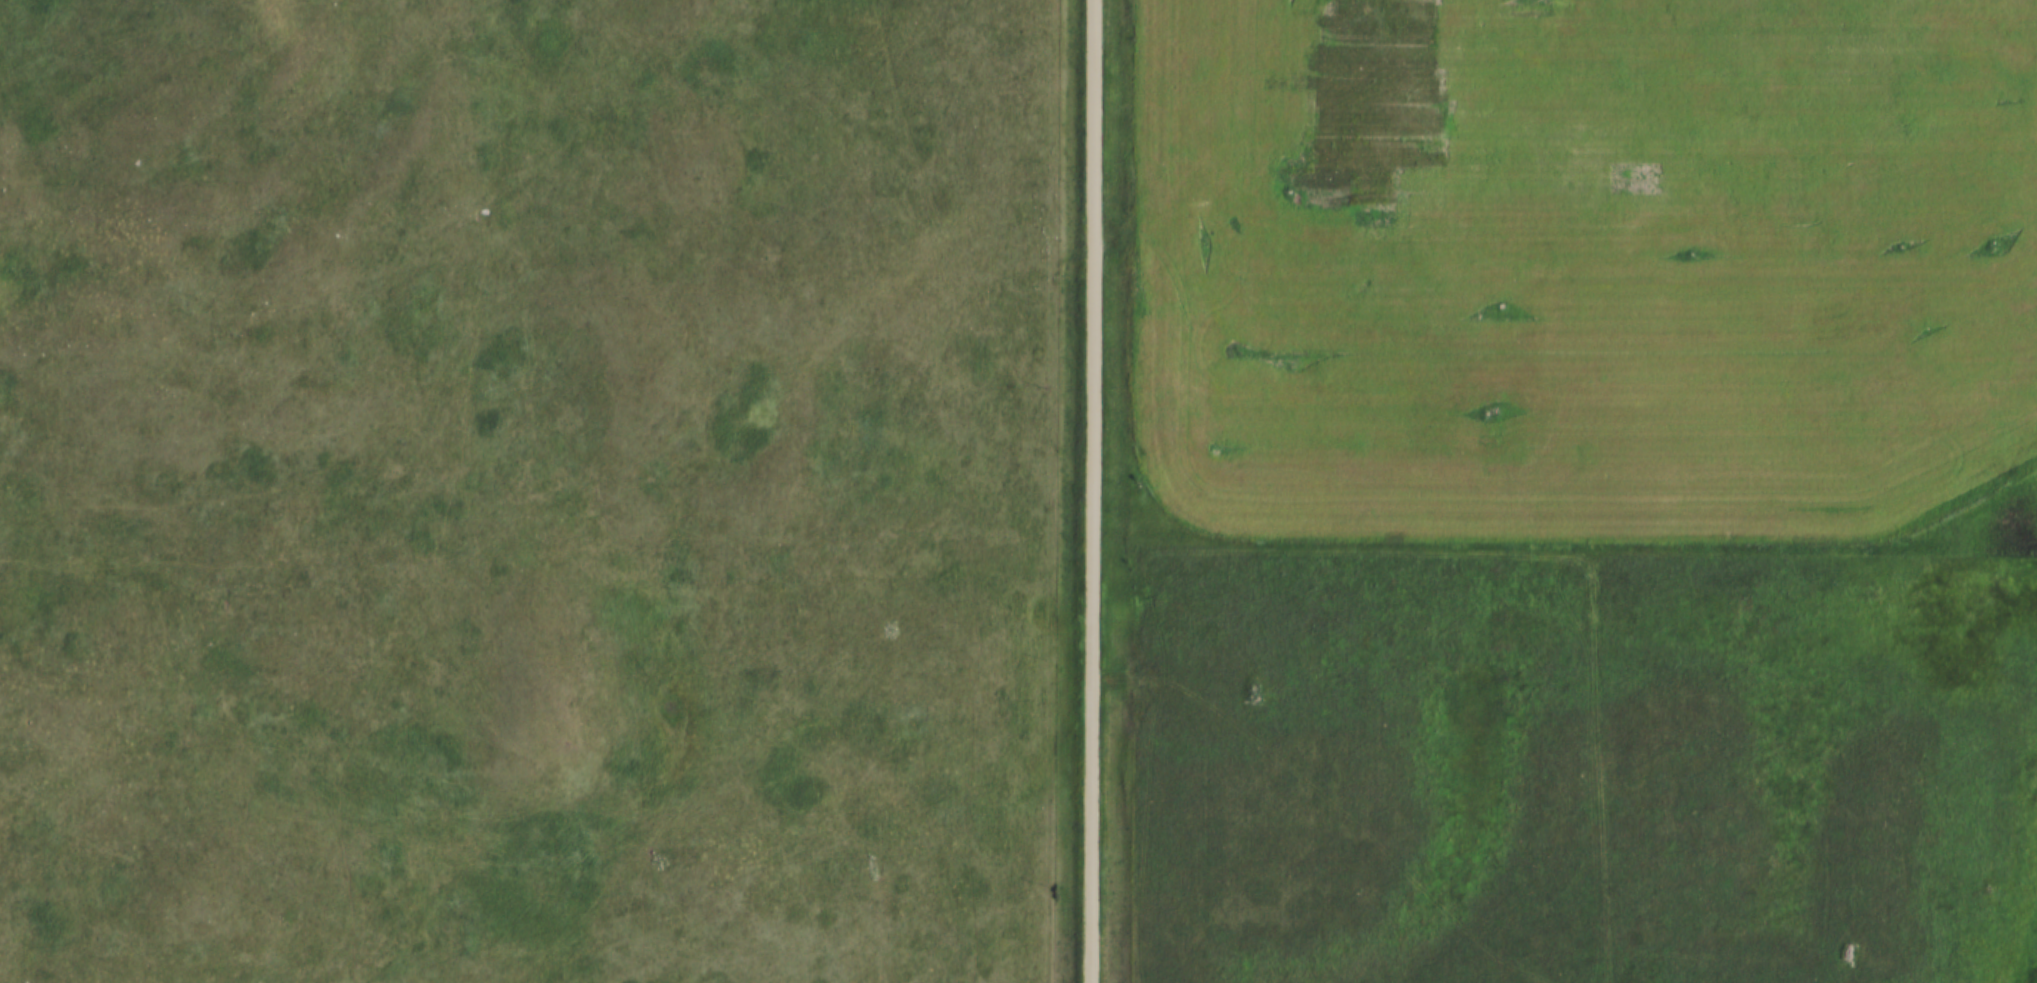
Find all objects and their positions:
road: (1092, 491)

